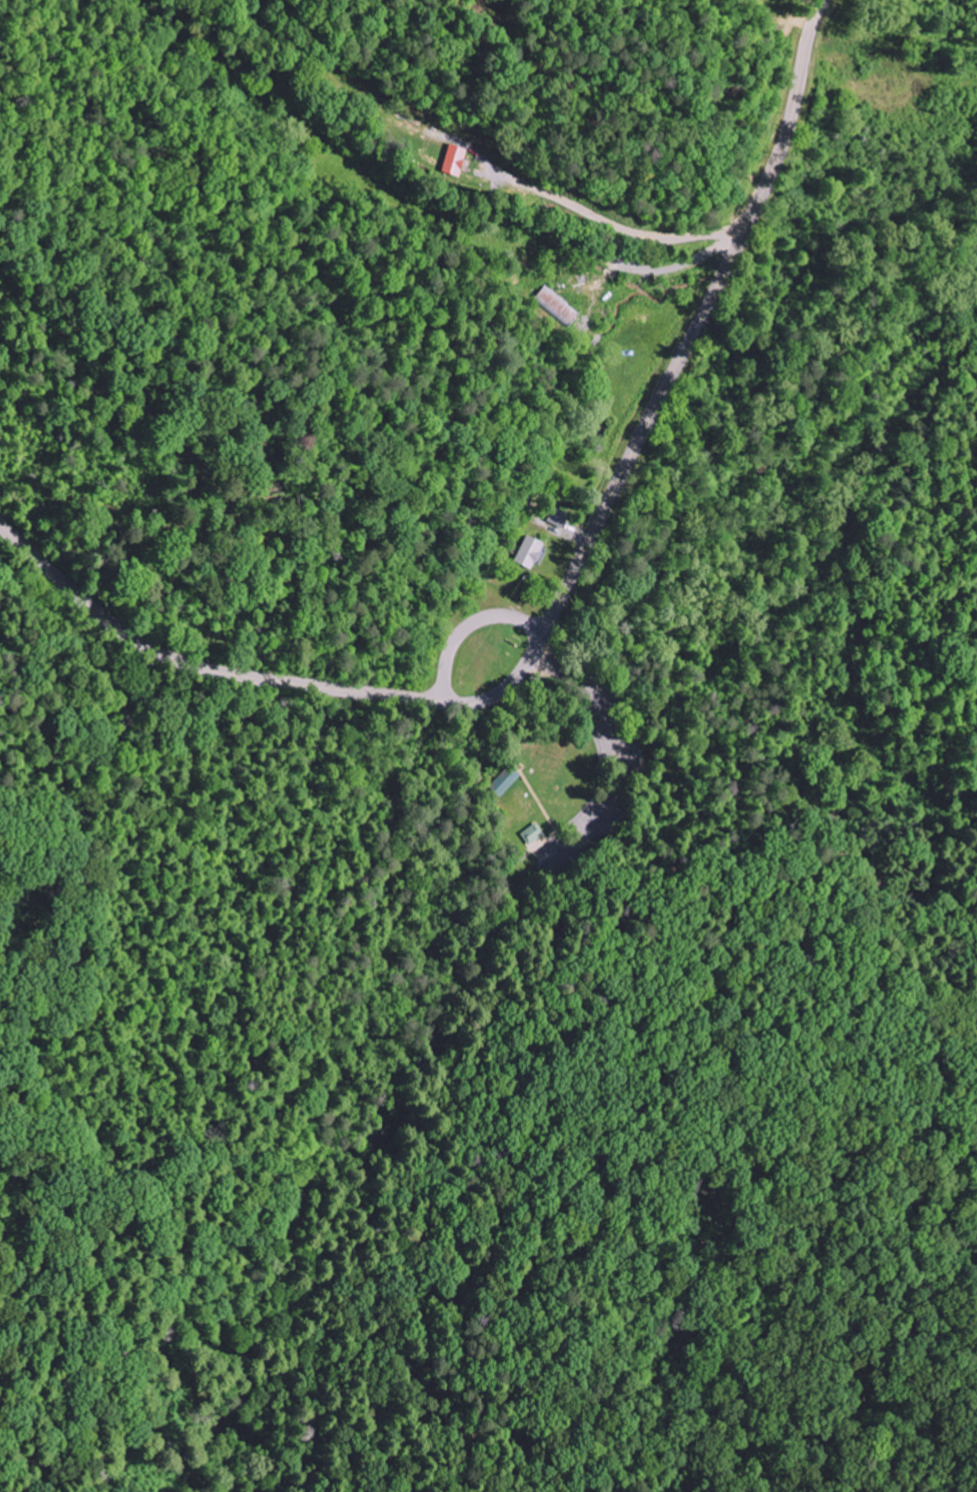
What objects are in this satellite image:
building: (454, 160)
road: (439, 183)
building: (558, 307)
road: (707, 307)
building: (558, 518)
building: (529, 552)
road: (276, 670)
parking lot: (601, 704)
building: (505, 781)
building: (532, 834)

